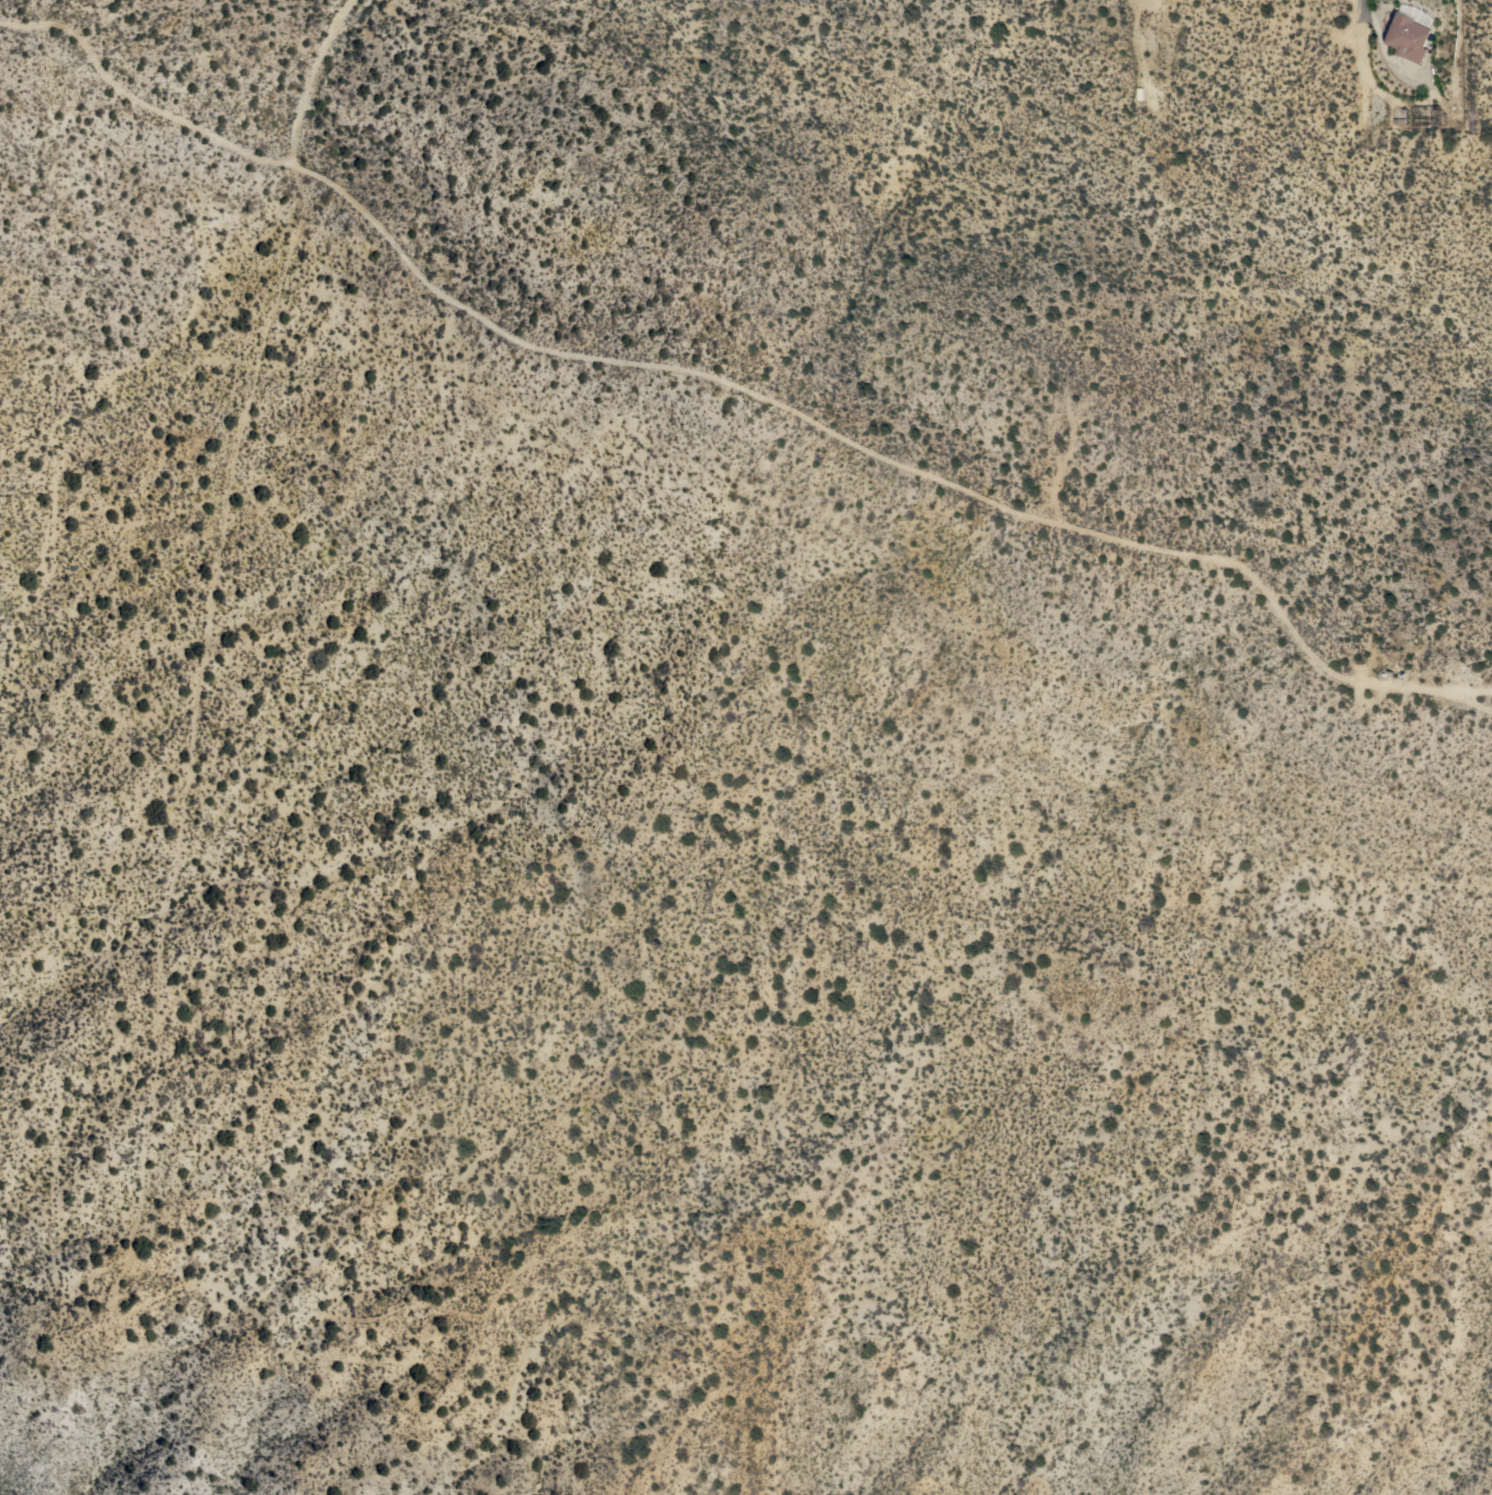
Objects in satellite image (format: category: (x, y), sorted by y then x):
road: (1137, 37)
building: (1408, 37)
road: (1363, 62)
road: (318, 78)
road: (729, 386)
road: (1464, 702)

